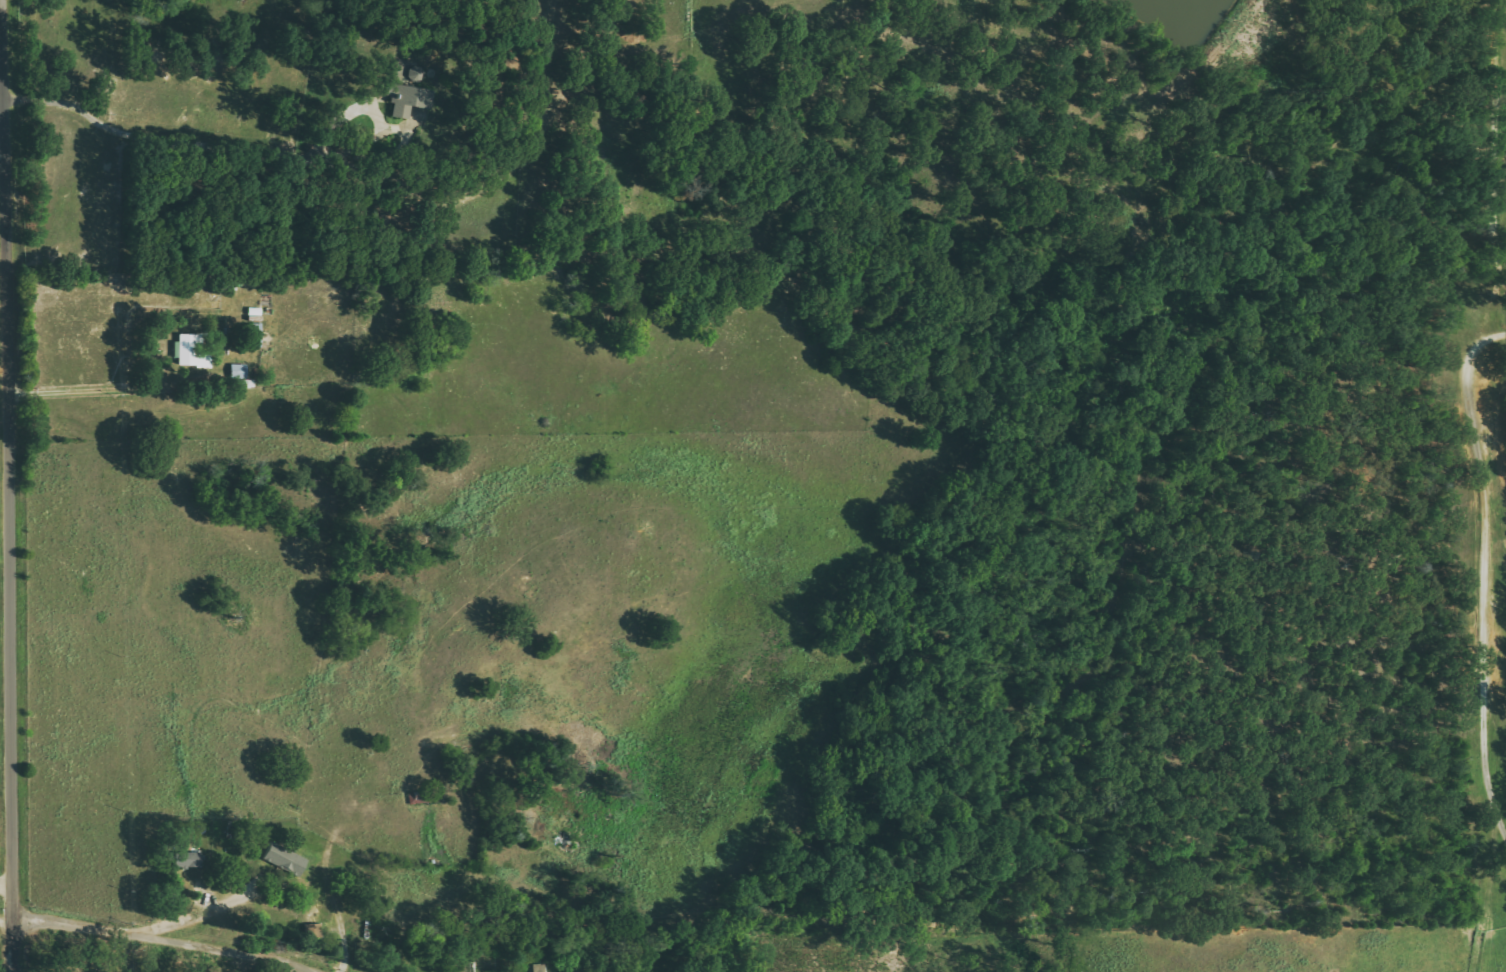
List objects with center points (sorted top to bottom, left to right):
building: (418, 73)
building: (411, 96)
building: (193, 354)
road: (68, 385)
road: (18, 485)
road: (1484, 572)
building: (191, 859)
building: (286, 859)
road: (11, 878)
road: (176, 936)
building: (534, 969)

